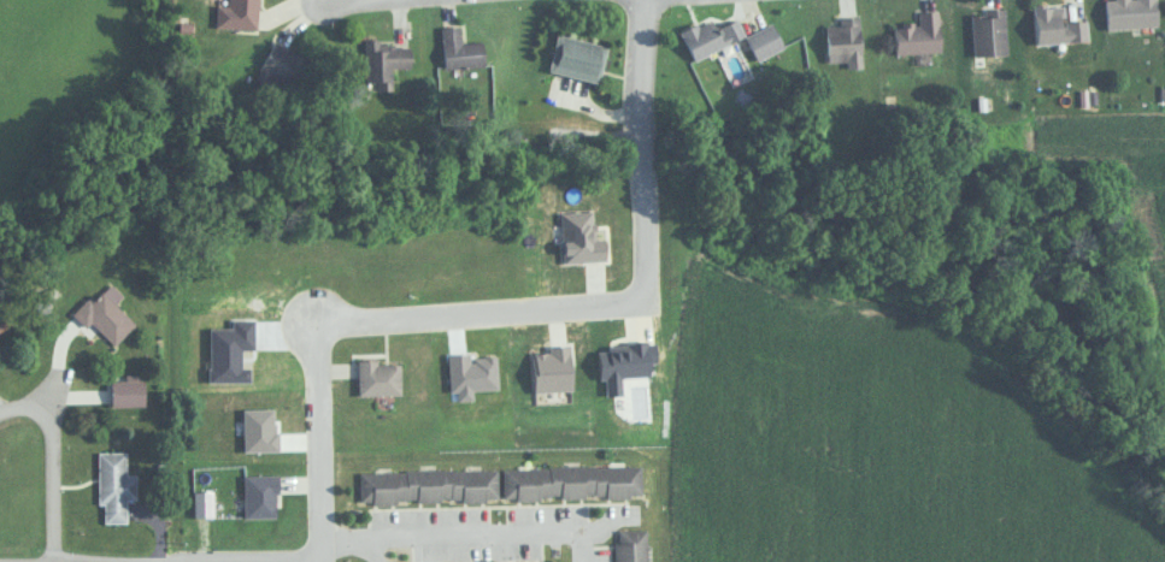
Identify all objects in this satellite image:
building: (237, 13)
building: (1131, 13)
building: (1057, 24)
building: (988, 31)
building: (918, 35)
building: (710, 36)
building: (765, 41)
building: (845, 41)
building: (460, 49)
building: (578, 57)
building: (386, 60)
building: (278, 67)
road: (641, 147)
road: (369, 315)
building: (105, 317)
building: (378, 377)
road: (51, 400)
road: (22, 412)
building: (571, 481)
building: (426, 484)
road: (53, 485)
building: (113, 486)
road: (469, 532)
building: (631, 545)
road: (322, 549)

